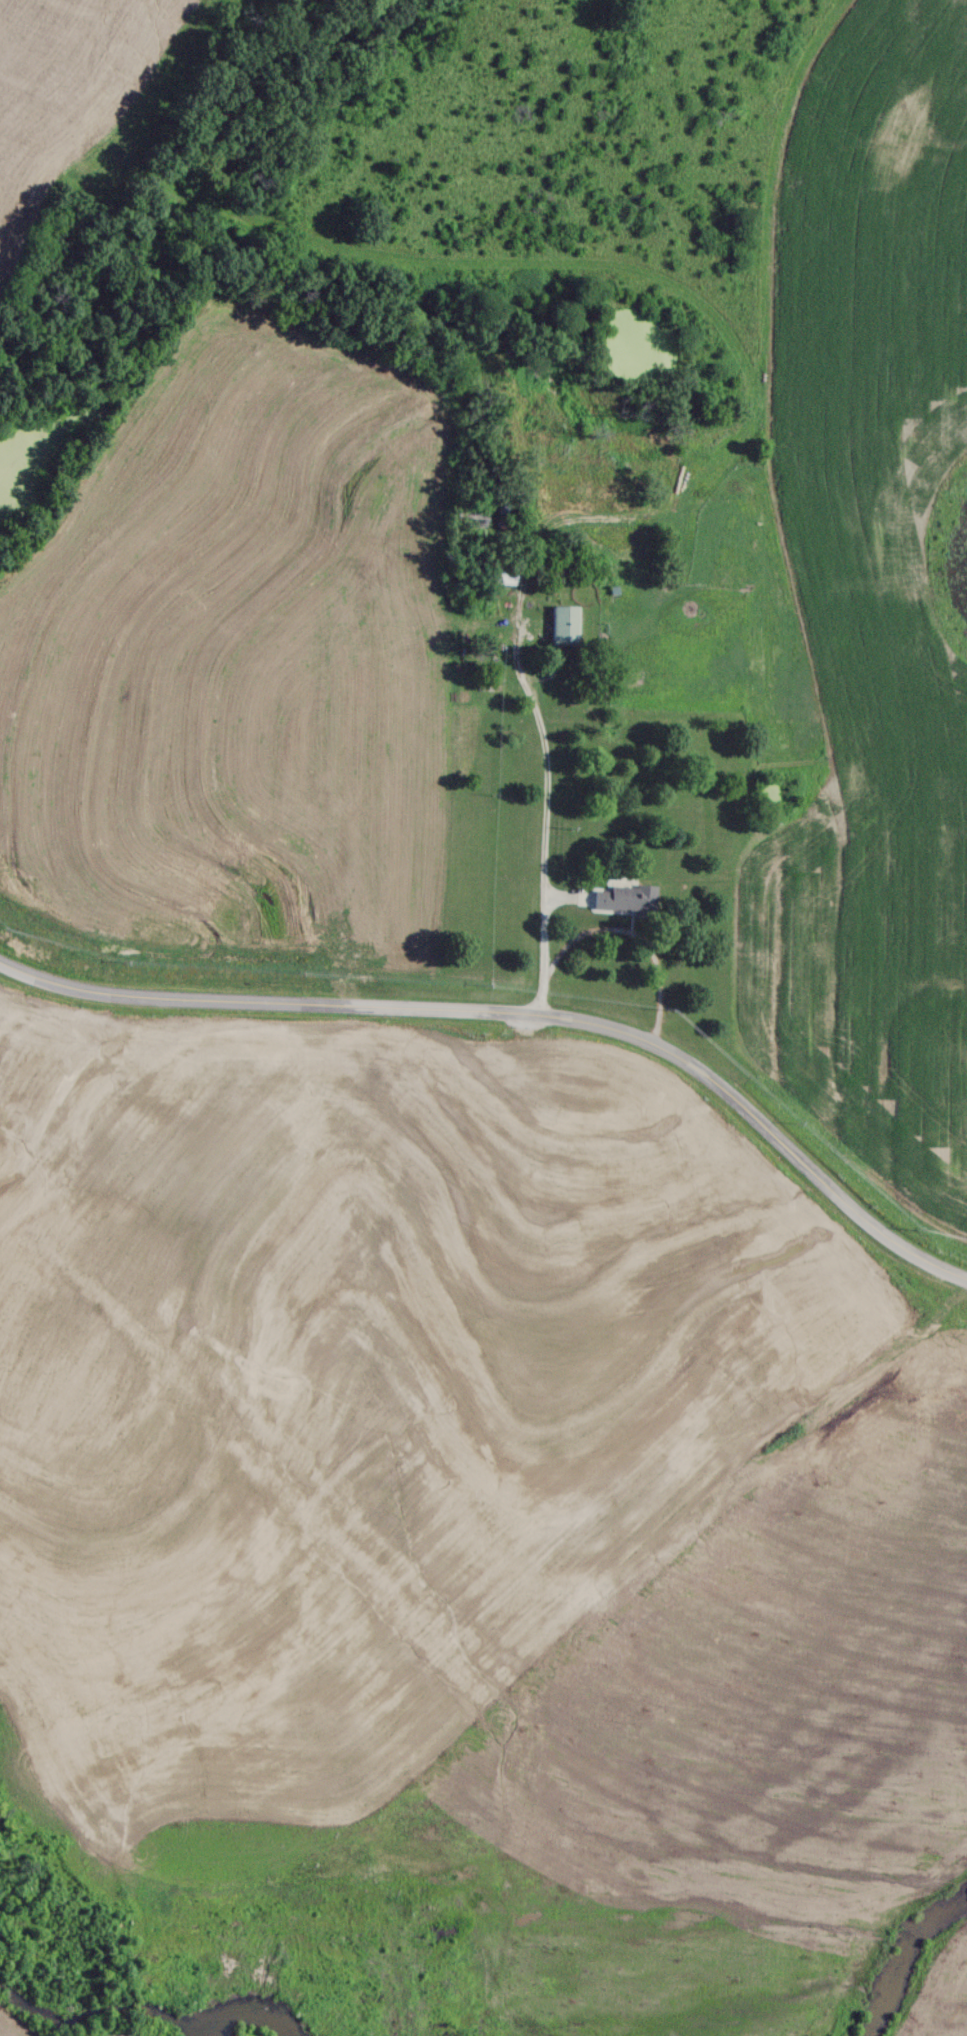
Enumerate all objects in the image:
building: (468, 516)
building: (503, 578)
building: (562, 625)
road: (522, 676)
building: (626, 899)
road: (520, 1016)

